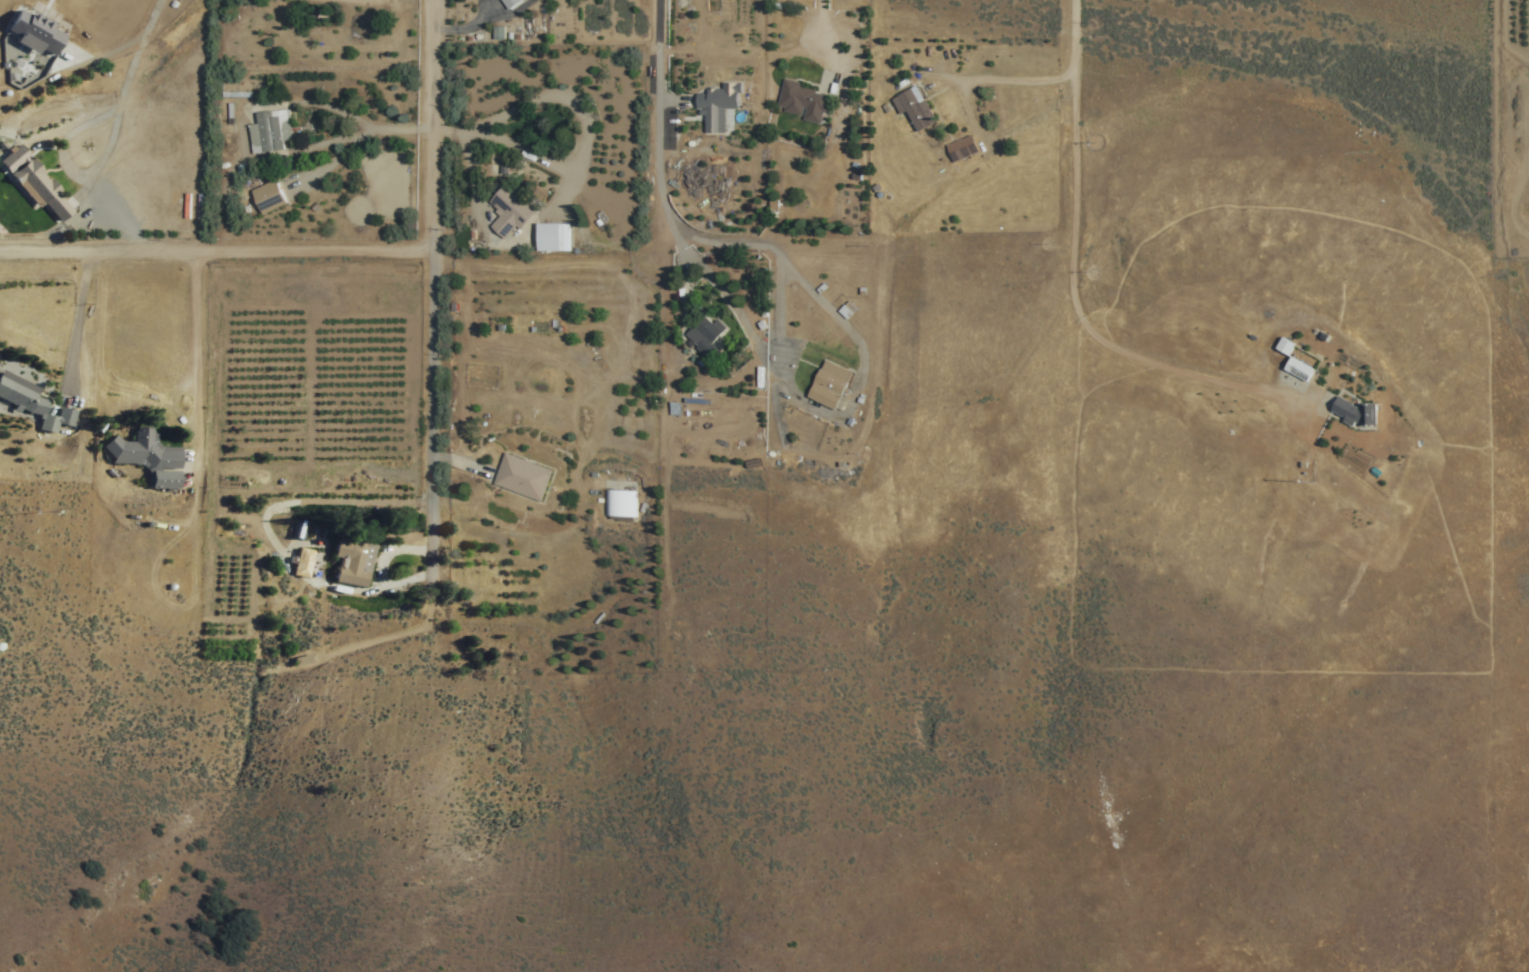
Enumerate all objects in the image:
building: (509, 3)
building: (718, 101)
building: (802, 102)
building: (915, 108)
building: (270, 131)
building: (962, 148)
road: (656, 181)
building: (37, 188)
building: (268, 197)
building: (509, 212)
building: (553, 238)
road: (215, 245)
road: (431, 292)
road: (1076, 305)
building: (705, 338)
building: (1296, 374)
building: (829, 385)
building: (31, 402)
building: (1354, 411)
crop: (536, 443)
building: (143, 450)
crop: (283, 456)
building: (521, 476)
building: (164, 479)
building: (351, 561)
building: (301, 562)

